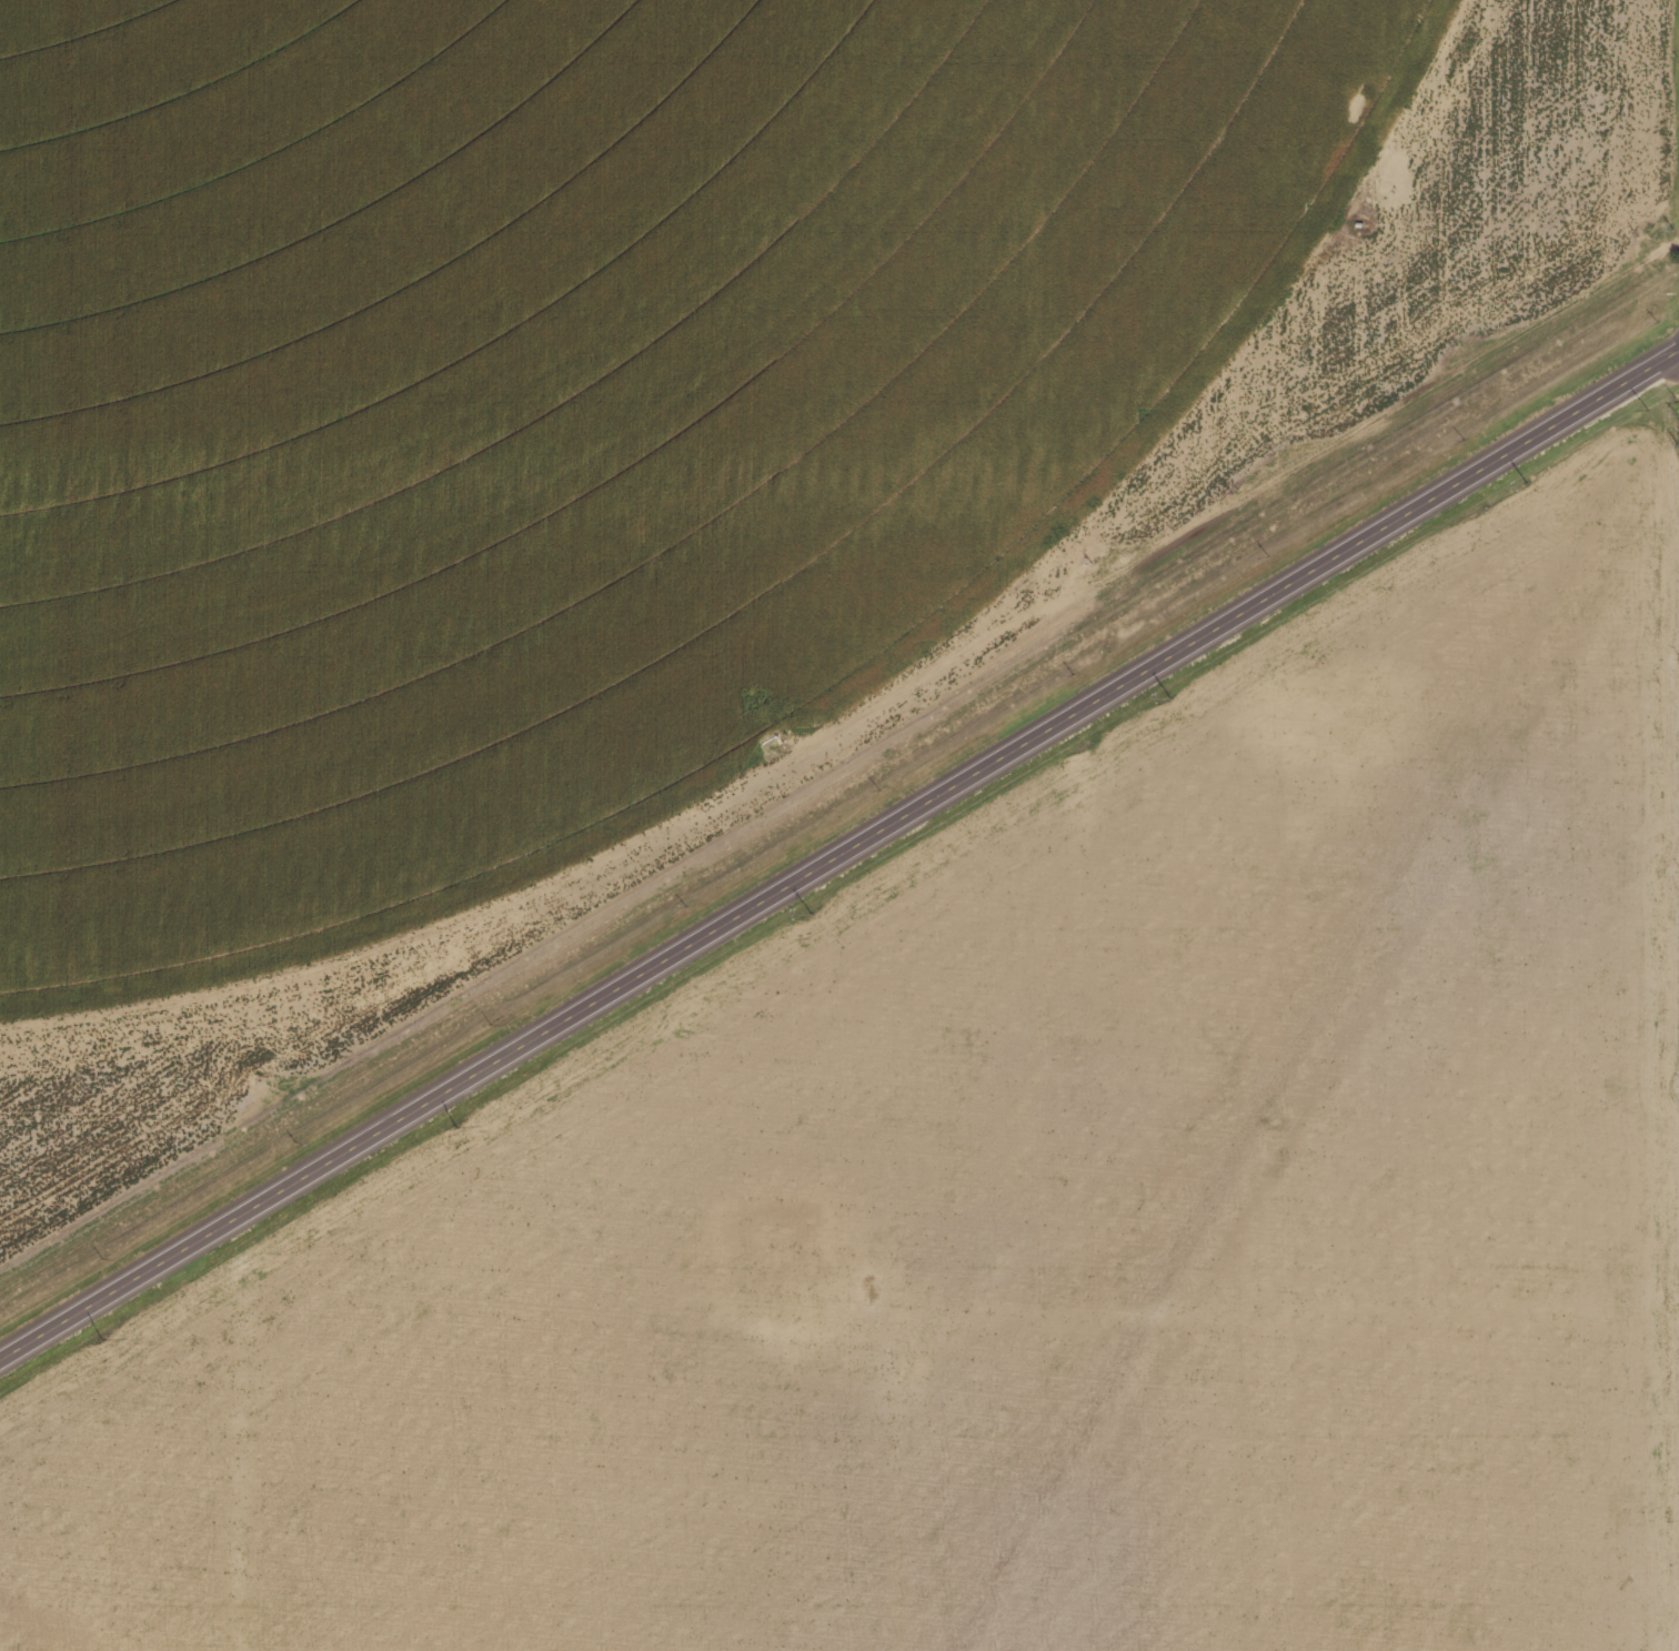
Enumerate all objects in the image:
power tower: (1643, 404)
power tower: (1521, 480)
power tower: (1164, 694)
road: (839, 859)
power tower: (804, 908)
power tower: (452, 1123)
power tower: (98, 1335)

